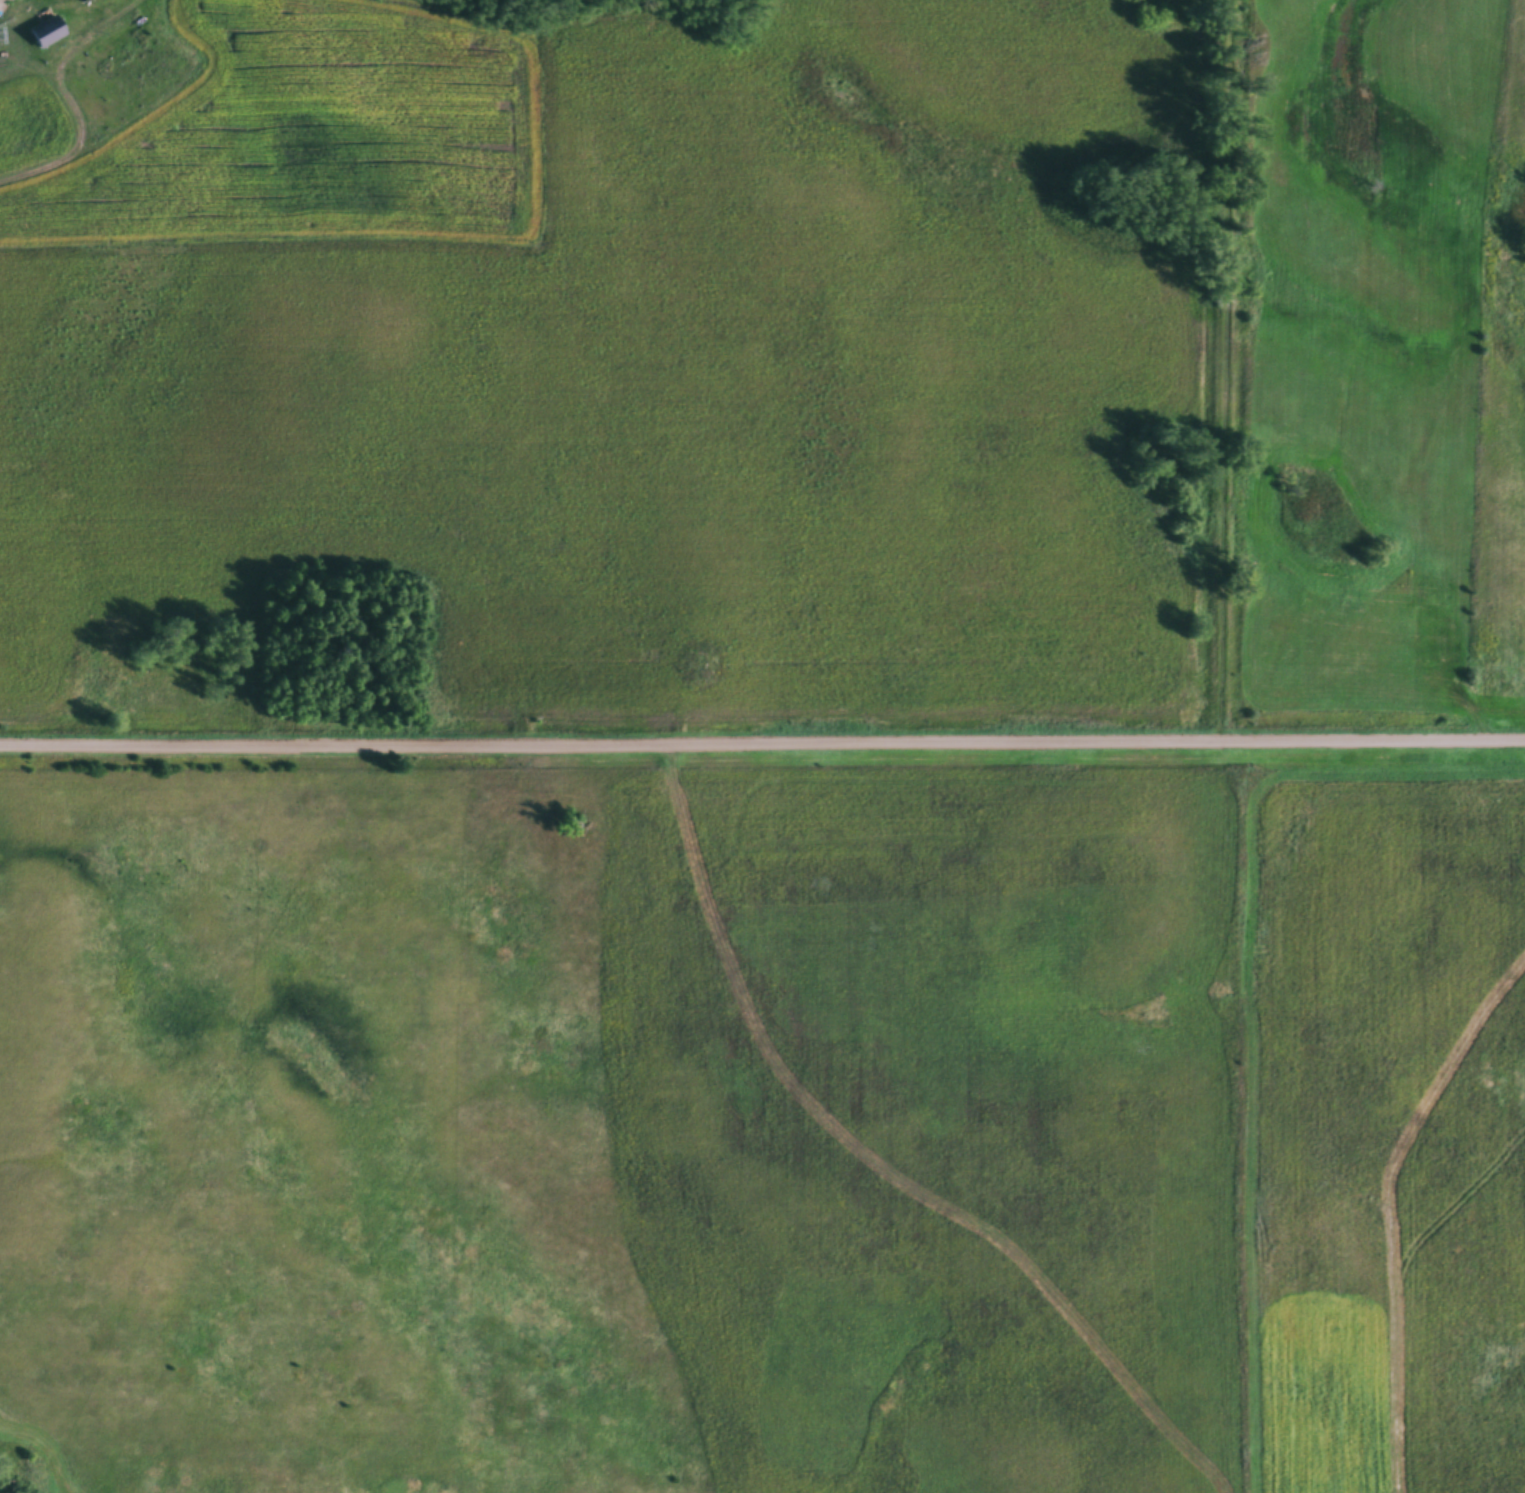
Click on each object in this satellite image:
road: (47, 15)
road: (1226, 368)
road: (762, 740)

